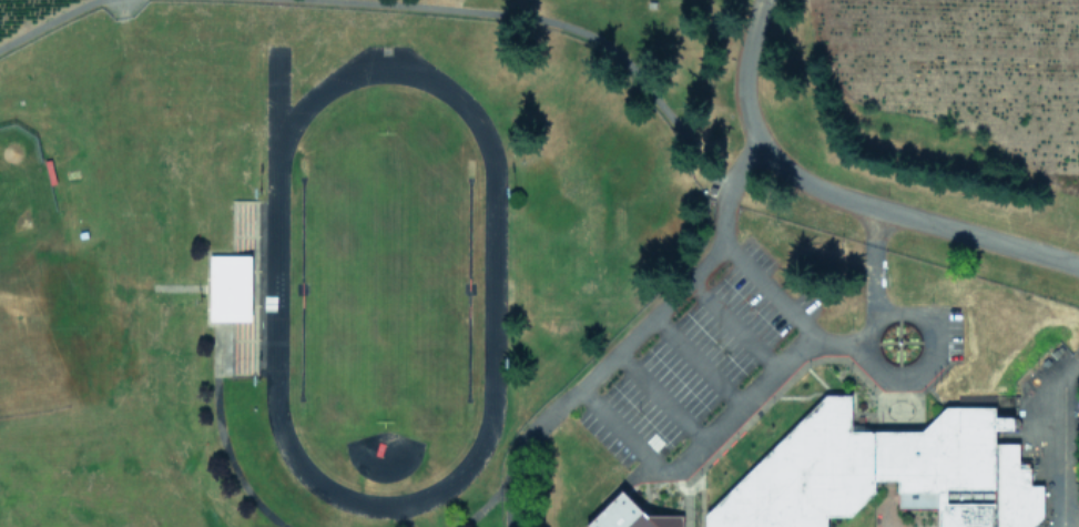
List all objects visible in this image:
road: (535, 20)
road: (50, 26)
road: (746, 159)
road: (845, 197)
road: (723, 211)
road: (877, 262)
park: (384, 274)
park: (384, 286)
road: (772, 286)
park: (33, 287)
building: (230, 287)
road: (275, 294)
track: (275, 294)
road: (884, 311)
road: (735, 327)
parking lot: (944, 328)
road: (841, 341)
road: (695, 365)
road: (594, 372)
parking lot: (706, 372)
road: (660, 399)
road: (1061, 448)
road: (699, 452)
road: (241, 465)
building: (885, 472)
road: (485, 504)
building: (630, 515)
road: (404, 521)

